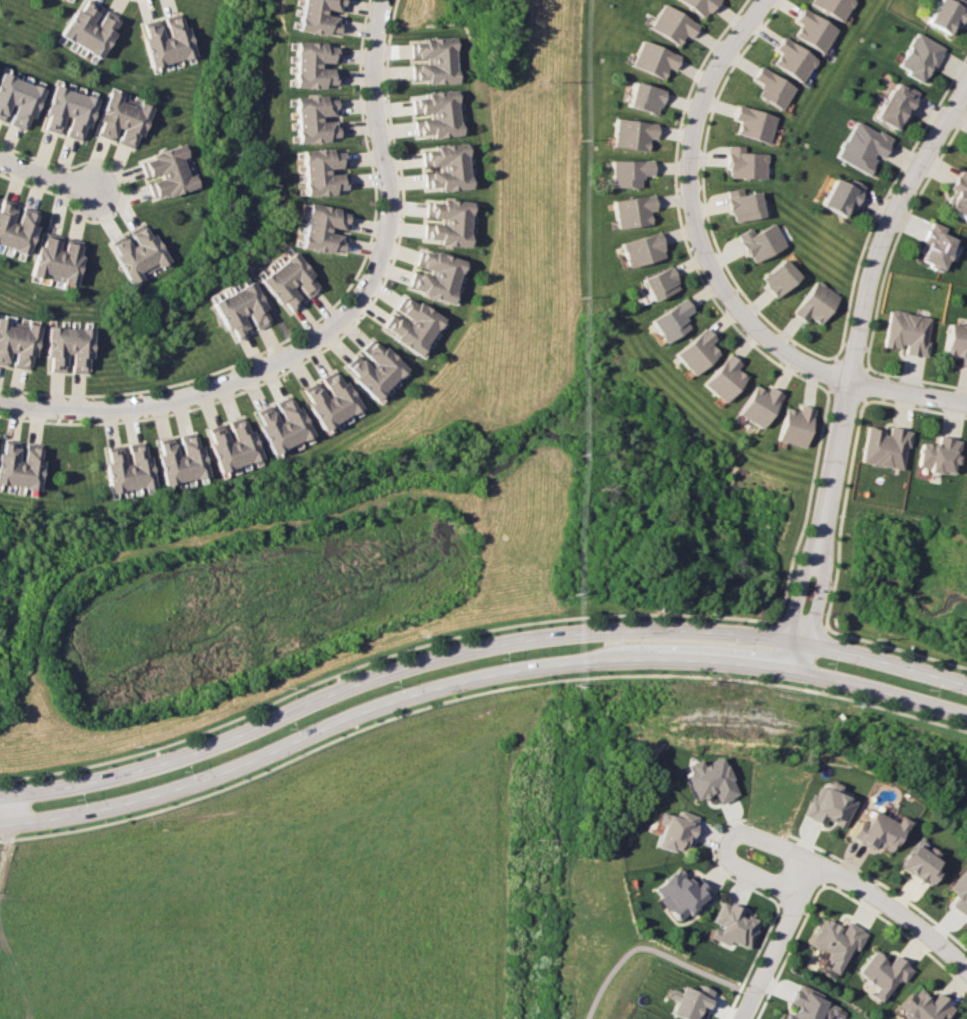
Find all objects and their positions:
building: (698, 6)
building: (831, 7)
building: (944, 16)
building: (319, 17)
building: (75, 20)
building: (671, 24)
building: (83, 25)
building: (812, 30)
building: (93, 31)
building: (101, 36)
building: (180, 37)
building: (170, 39)
building: (159, 42)
building: (436, 43)
building: (150, 45)
building: (436, 54)
building: (918, 57)
building: (653, 59)
building: (792, 59)
building: (312, 65)
building: (436, 66)
building: (437, 76)
building: (4, 84)
building: (771, 87)
building: (9, 95)
building: (436, 97)
building: (644, 97)
building: (18, 101)
building: (28, 105)
building: (52, 105)
building: (894, 105)
building: (61, 108)
building: (437, 108)
building: (72, 112)
building: (106, 112)
building: (81, 116)
building: (116, 116)
building: (314, 117)
building: (438, 119)
building: (126, 121)
building: (753, 123)
building: (136, 124)
building: (439, 130)
building: (631, 133)
road: (393, 135)
road: (364, 143)
building: (861, 146)
building: (445, 150)
building: (162, 156)
building: (445, 161)
building: (744, 163)
road: (67, 165)
building: (162, 167)
building: (321, 171)
road: (49, 172)
building: (627, 172)
building: (446, 173)
road: (268, 176)
building: (166, 177)
building: (447, 184)
building: (171, 186)
building: (839, 196)
building: (958, 196)
building: (742, 204)
building: (449, 206)
road: (68, 208)
building: (2, 210)
building: (631, 211)
building: (447, 216)
road: (694, 216)
building: (5, 225)
building: (447, 228)
building: (321, 230)
building: (13, 231)
building: (24, 232)
building: (445, 238)
building: (759, 242)
building: (149, 245)
building: (933, 246)
building: (640, 249)
building: (140, 250)
building: (39, 256)
building: (131, 256)
building: (49, 258)
building: (60, 260)
building: (443, 260)
building: (123, 262)
building: (70, 263)
building: (439, 270)
building: (777, 277)
building: (288, 280)
building: (434, 281)
building: (658, 283)
building: (431, 291)
road: (863, 294)
building: (814, 303)
road: (348, 309)
building: (239, 310)
building: (421, 312)
building: (415, 320)
building: (670, 320)
building: (1, 326)
building: (408, 330)
building: (905, 332)
building: (6, 339)
building: (402, 339)
building: (18, 342)
building: (955, 342)
building: (28, 344)
building: (52, 348)
building: (63, 350)
building: (76, 350)
building: (86, 350)
building: (694, 351)
building: (387, 358)
building: (378, 364)
road: (230, 366)
building: (369, 373)
building: (721, 378)
road: (263, 381)
building: (362, 381)
building: (343, 392)
road: (907, 392)
road: (42, 394)
building: (333, 396)
road: (27, 402)
building: (323, 403)
building: (756, 405)
building: (314, 409)
building: (296, 419)
road: (48, 421)
building: (287, 423)
building: (792, 425)
building: (276, 429)
building: (266, 433)
building: (247, 439)
building: (237, 442)
building: (225, 446)
building: (882, 446)
building: (215, 450)
building: (936, 454)
building: (194, 457)
building: (3, 459)
building: (184, 459)
building: (171, 460)
building: (160, 462)
building: (11, 464)
building: (141, 465)
building: (23, 467)
building: (131, 467)
building: (34, 469)
building: (119, 469)
building: (966, 469)
building: (109, 471)
road: (796, 596)
road: (817, 599)
road: (475, 649)
road: (475, 679)
road: (475, 693)
building: (707, 780)
building: (827, 805)
building: (672, 830)
building: (877, 831)
road: (808, 859)
building: (919, 863)
road: (716, 867)
road: (881, 883)
building: (678, 893)
road: (801, 893)
building: (959, 893)
building: (730, 924)
road: (900, 931)
road: (777, 940)
building: (836, 941)
road: (646, 947)
road: (789, 951)
road: (751, 961)
building: (884, 972)
building: (687, 1000)
building: (808, 1004)
building: (924, 1006)

